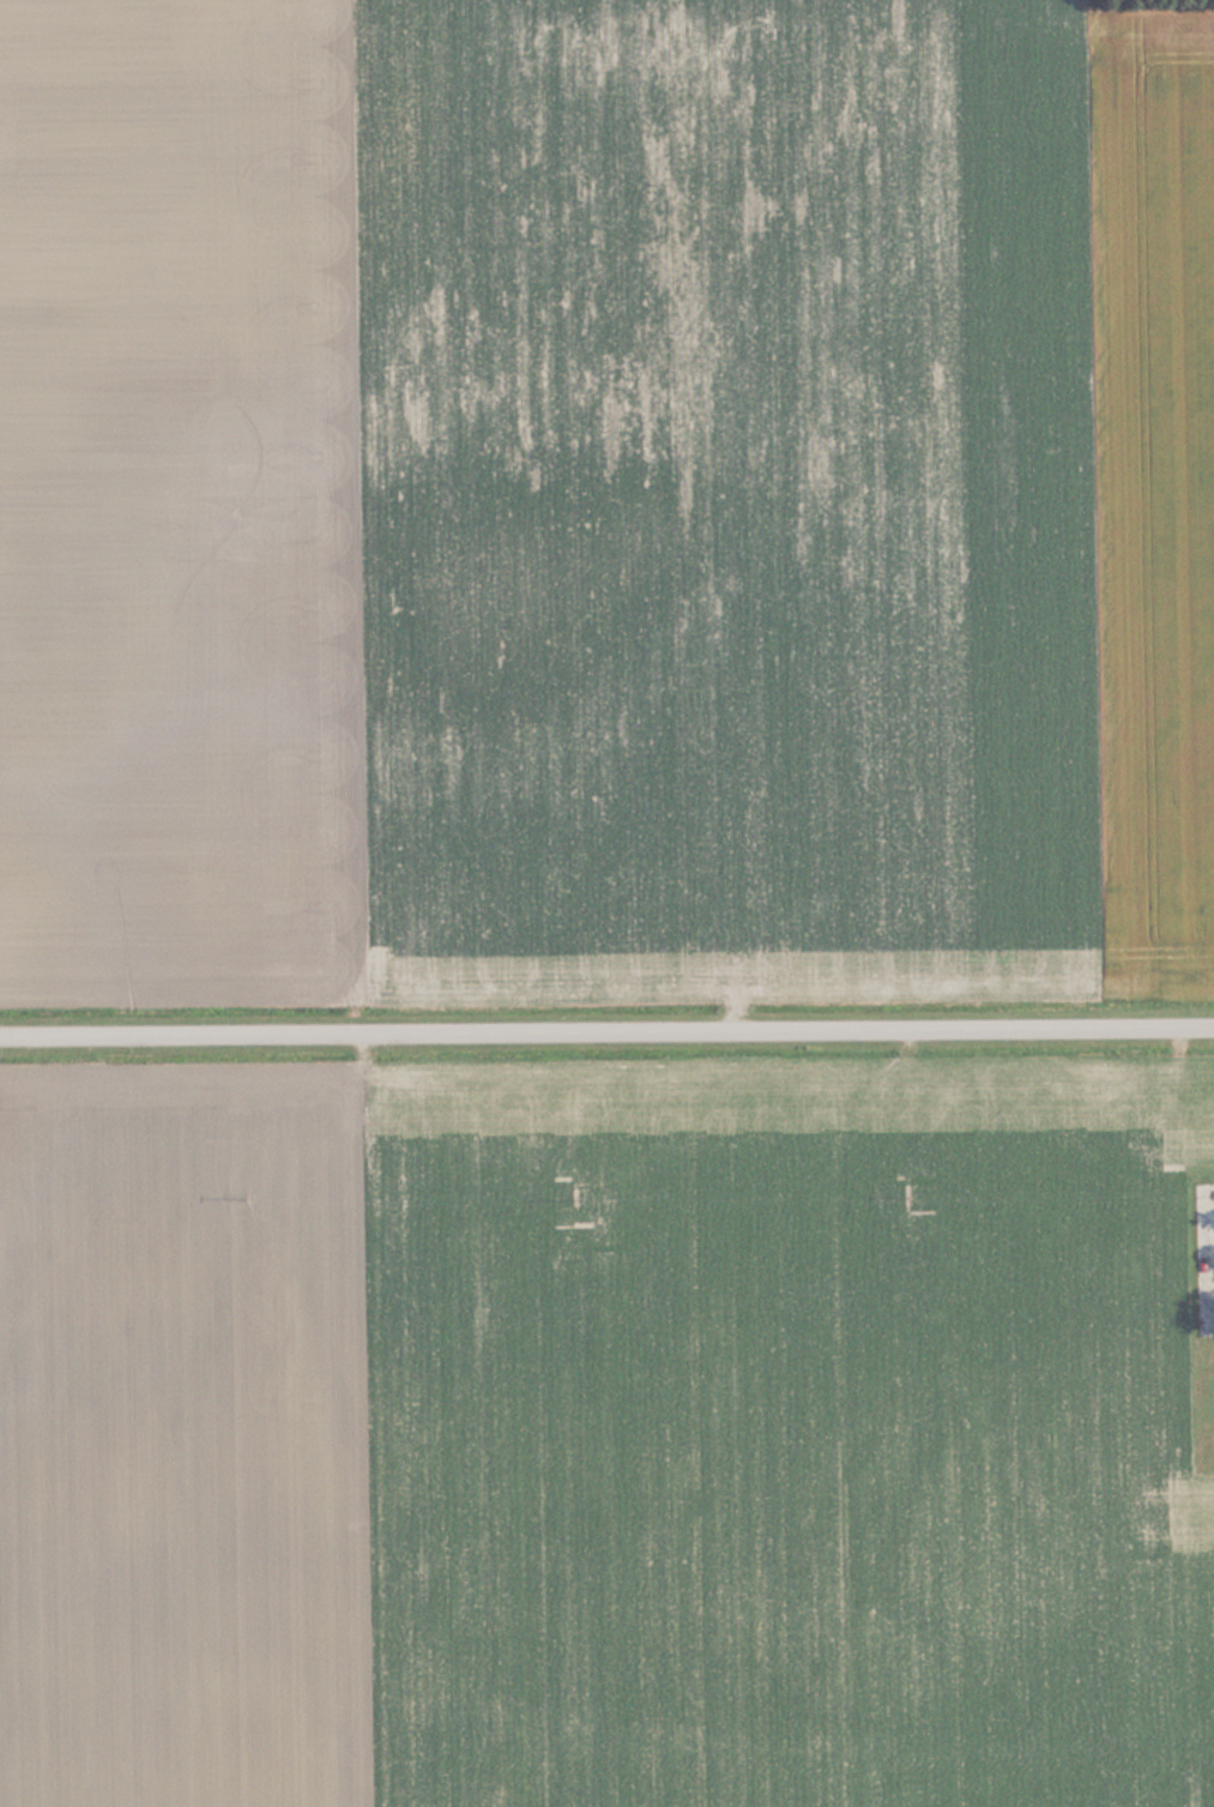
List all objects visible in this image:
road: (606, 1025)

